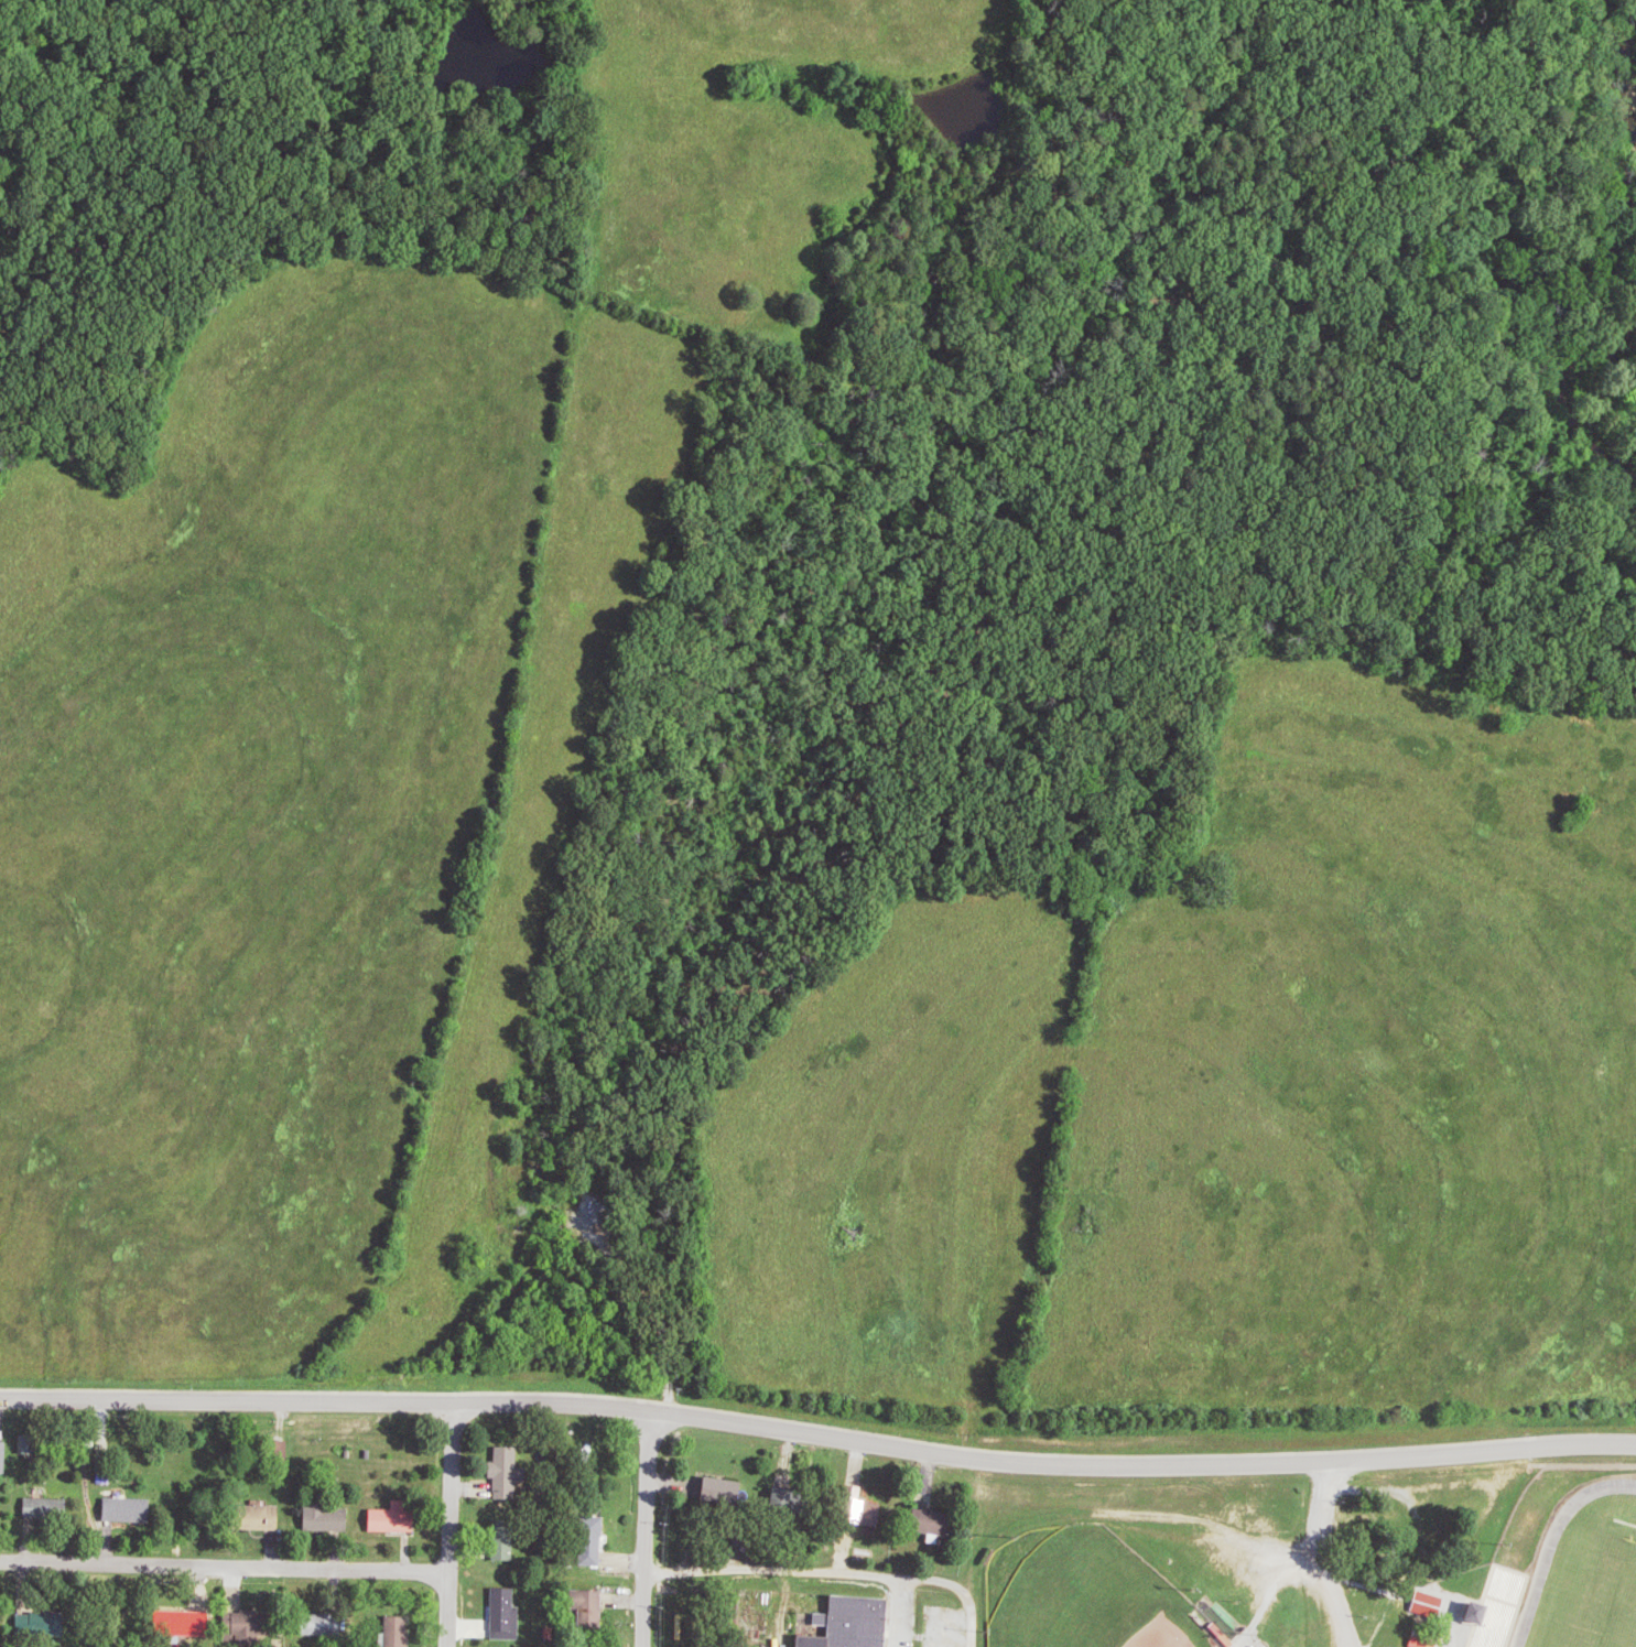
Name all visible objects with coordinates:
road: (817, 1438)
building: (32, 1444)
building: (6, 1456)
building: (509, 1474)
building: (1, 1506)
building: (51, 1509)
building: (133, 1510)
road: (1124, 1511)
building: (270, 1517)
building: (400, 1518)
building: (331, 1519)
road: (448, 1524)
road: (644, 1529)
road: (783, 1539)
road: (1326, 1556)
road: (224, 1564)
road: (832, 1571)
park: (1091, 1593)
building: (1429, 1603)
building: (1471, 1611)
building: (510, 1614)
building: (0, 1623)
building: (196, 1623)
building: (47, 1624)
building: (856, 1624)
building: (335, 1625)
building: (403, 1630)
building: (1426, 1639)
building: (1255, 1645)

